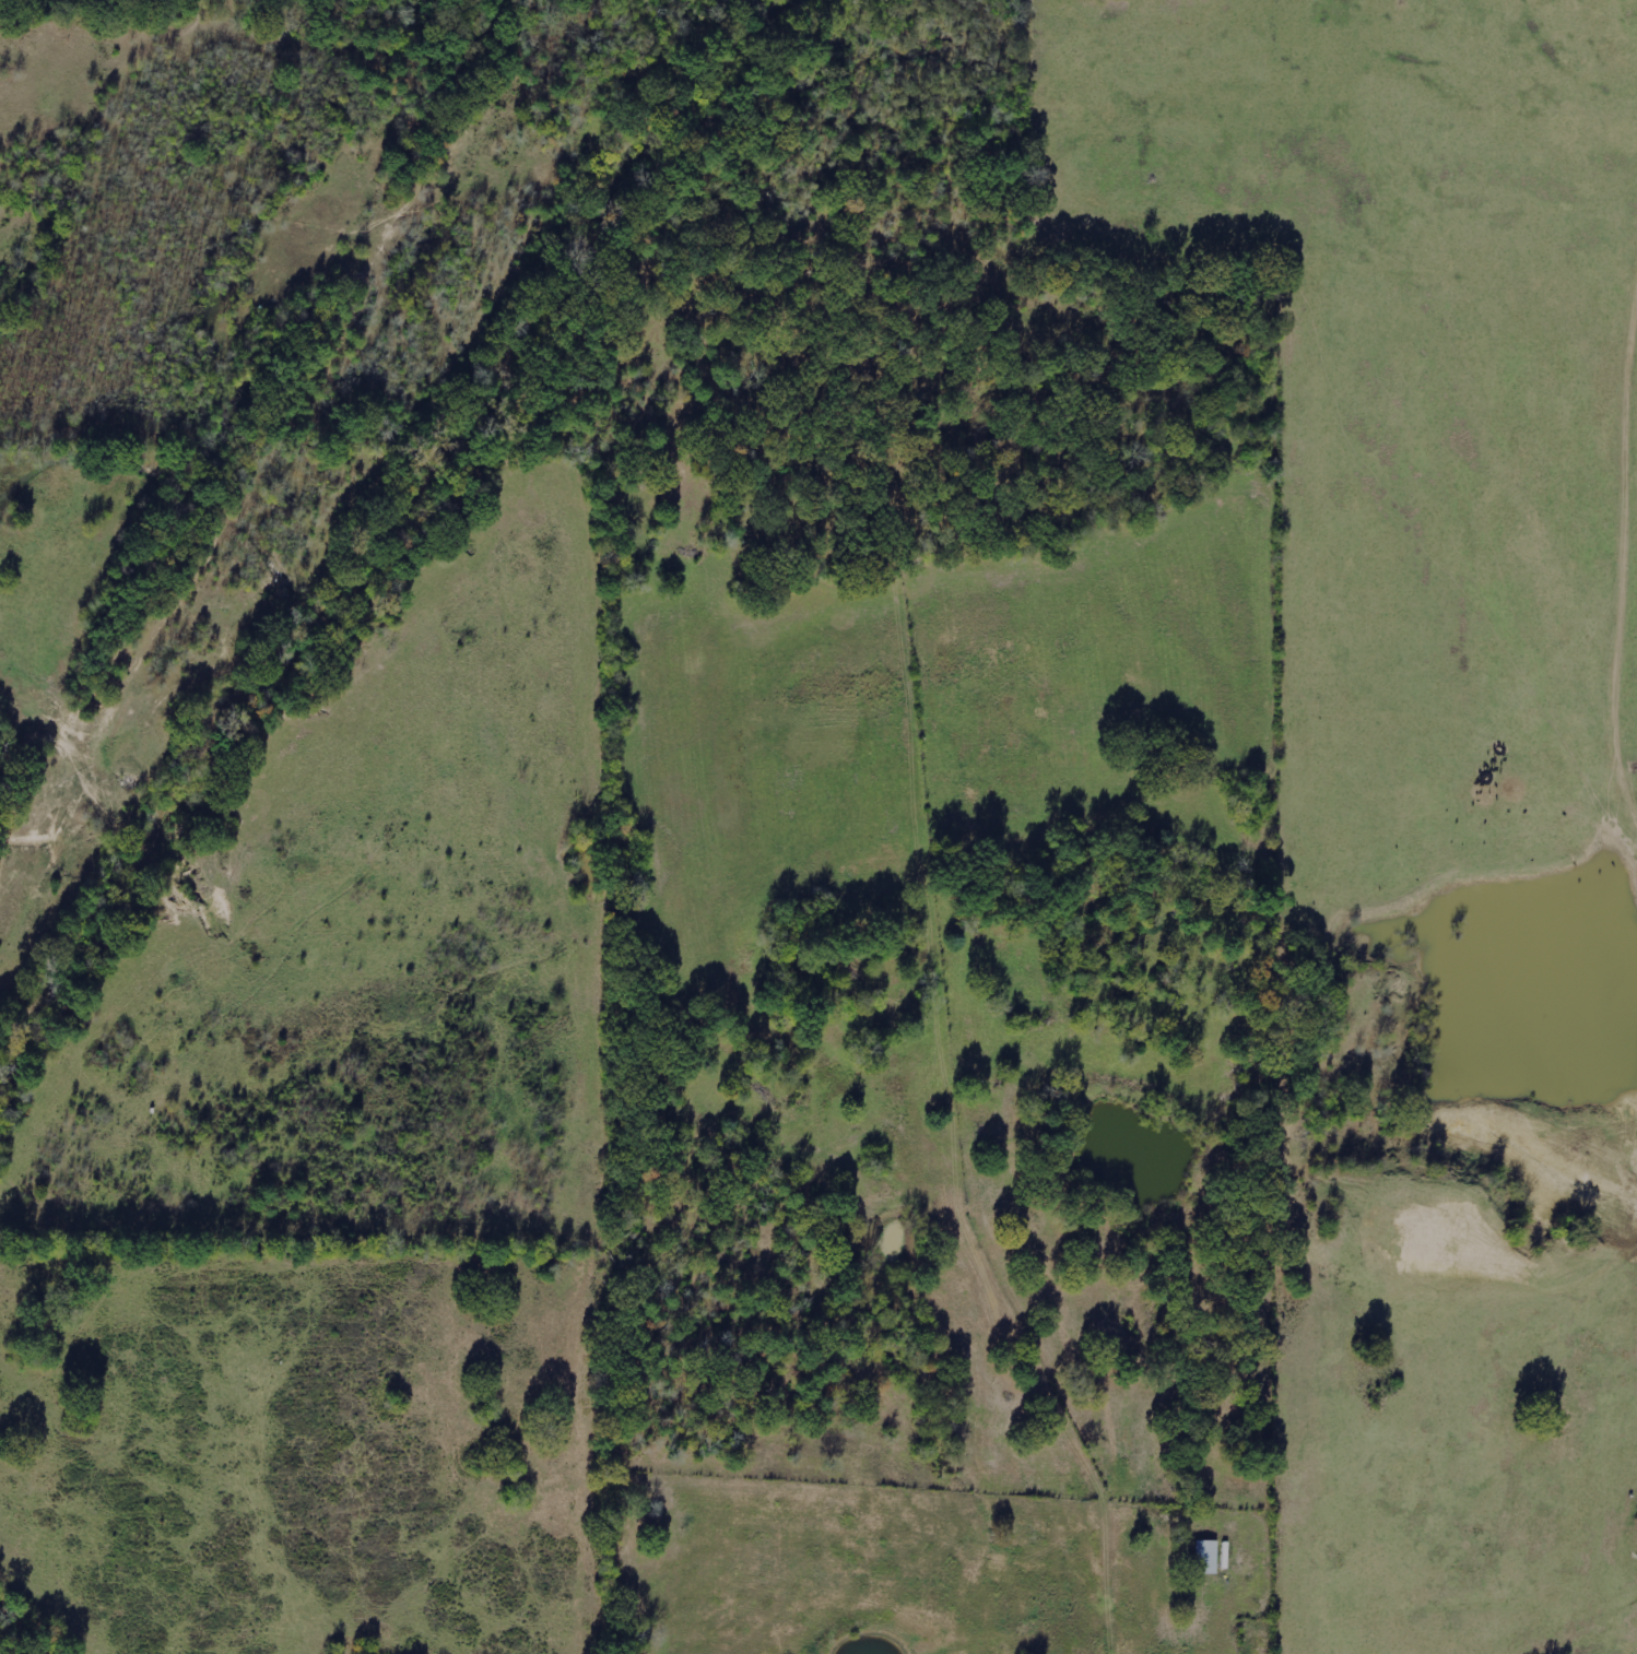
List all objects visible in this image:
building: (1203, 1558)

